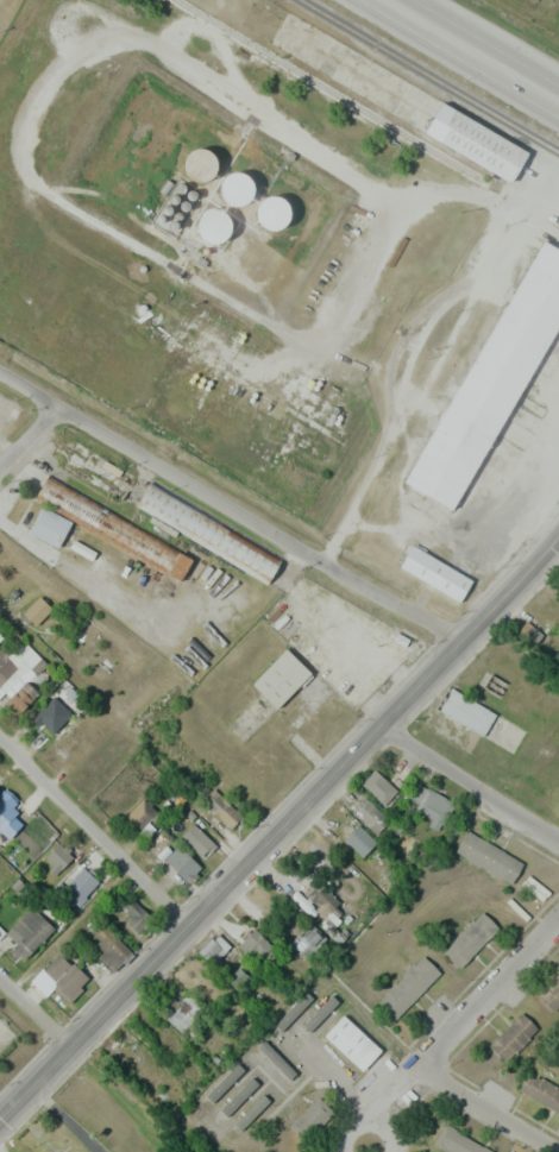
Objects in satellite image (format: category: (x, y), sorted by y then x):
road: (473, 50)
railway: (431, 75)
building: (478, 150)
building: (201, 172)
building: (238, 196)
road: (547, 212)
building: (274, 221)
building: (215, 233)
road: (425, 379)
building: (491, 390)
road: (31, 441)
road: (539, 454)
building: (94, 471)
road: (228, 505)
building: (50, 527)
building: (114, 527)
road: (451, 528)
building: (209, 537)
building: (435, 579)
building: (37, 610)
building: (528, 632)
building: (7, 666)
building: (281, 678)
building: (21, 697)
building: (466, 711)
building: (48, 723)
building: (385, 778)
road: (461, 791)
building: (6, 802)
road: (15, 806)
building: (221, 807)
building: (139, 814)
road: (281, 831)
building: (358, 839)
road: (92, 845)
building: (489, 856)
building: (56, 857)
building: (181, 861)
building: (80, 886)
building: (321, 896)
building: (134, 914)
building: (29, 931)
building: (470, 938)
building: (309, 940)
building: (256, 943)
building: (213, 948)
building: (112, 950)
building: (64, 974)
building: (241, 980)
building: (408, 987)
road: (485, 992)
building: (551, 994)
building: (184, 1012)
road: (33, 1019)
building: (513, 1037)
building: (352, 1043)
building: (539, 1090)
road: (485, 1110)
building: (310, 1119)
building: (456, 1141)
building: (314, 1151)

